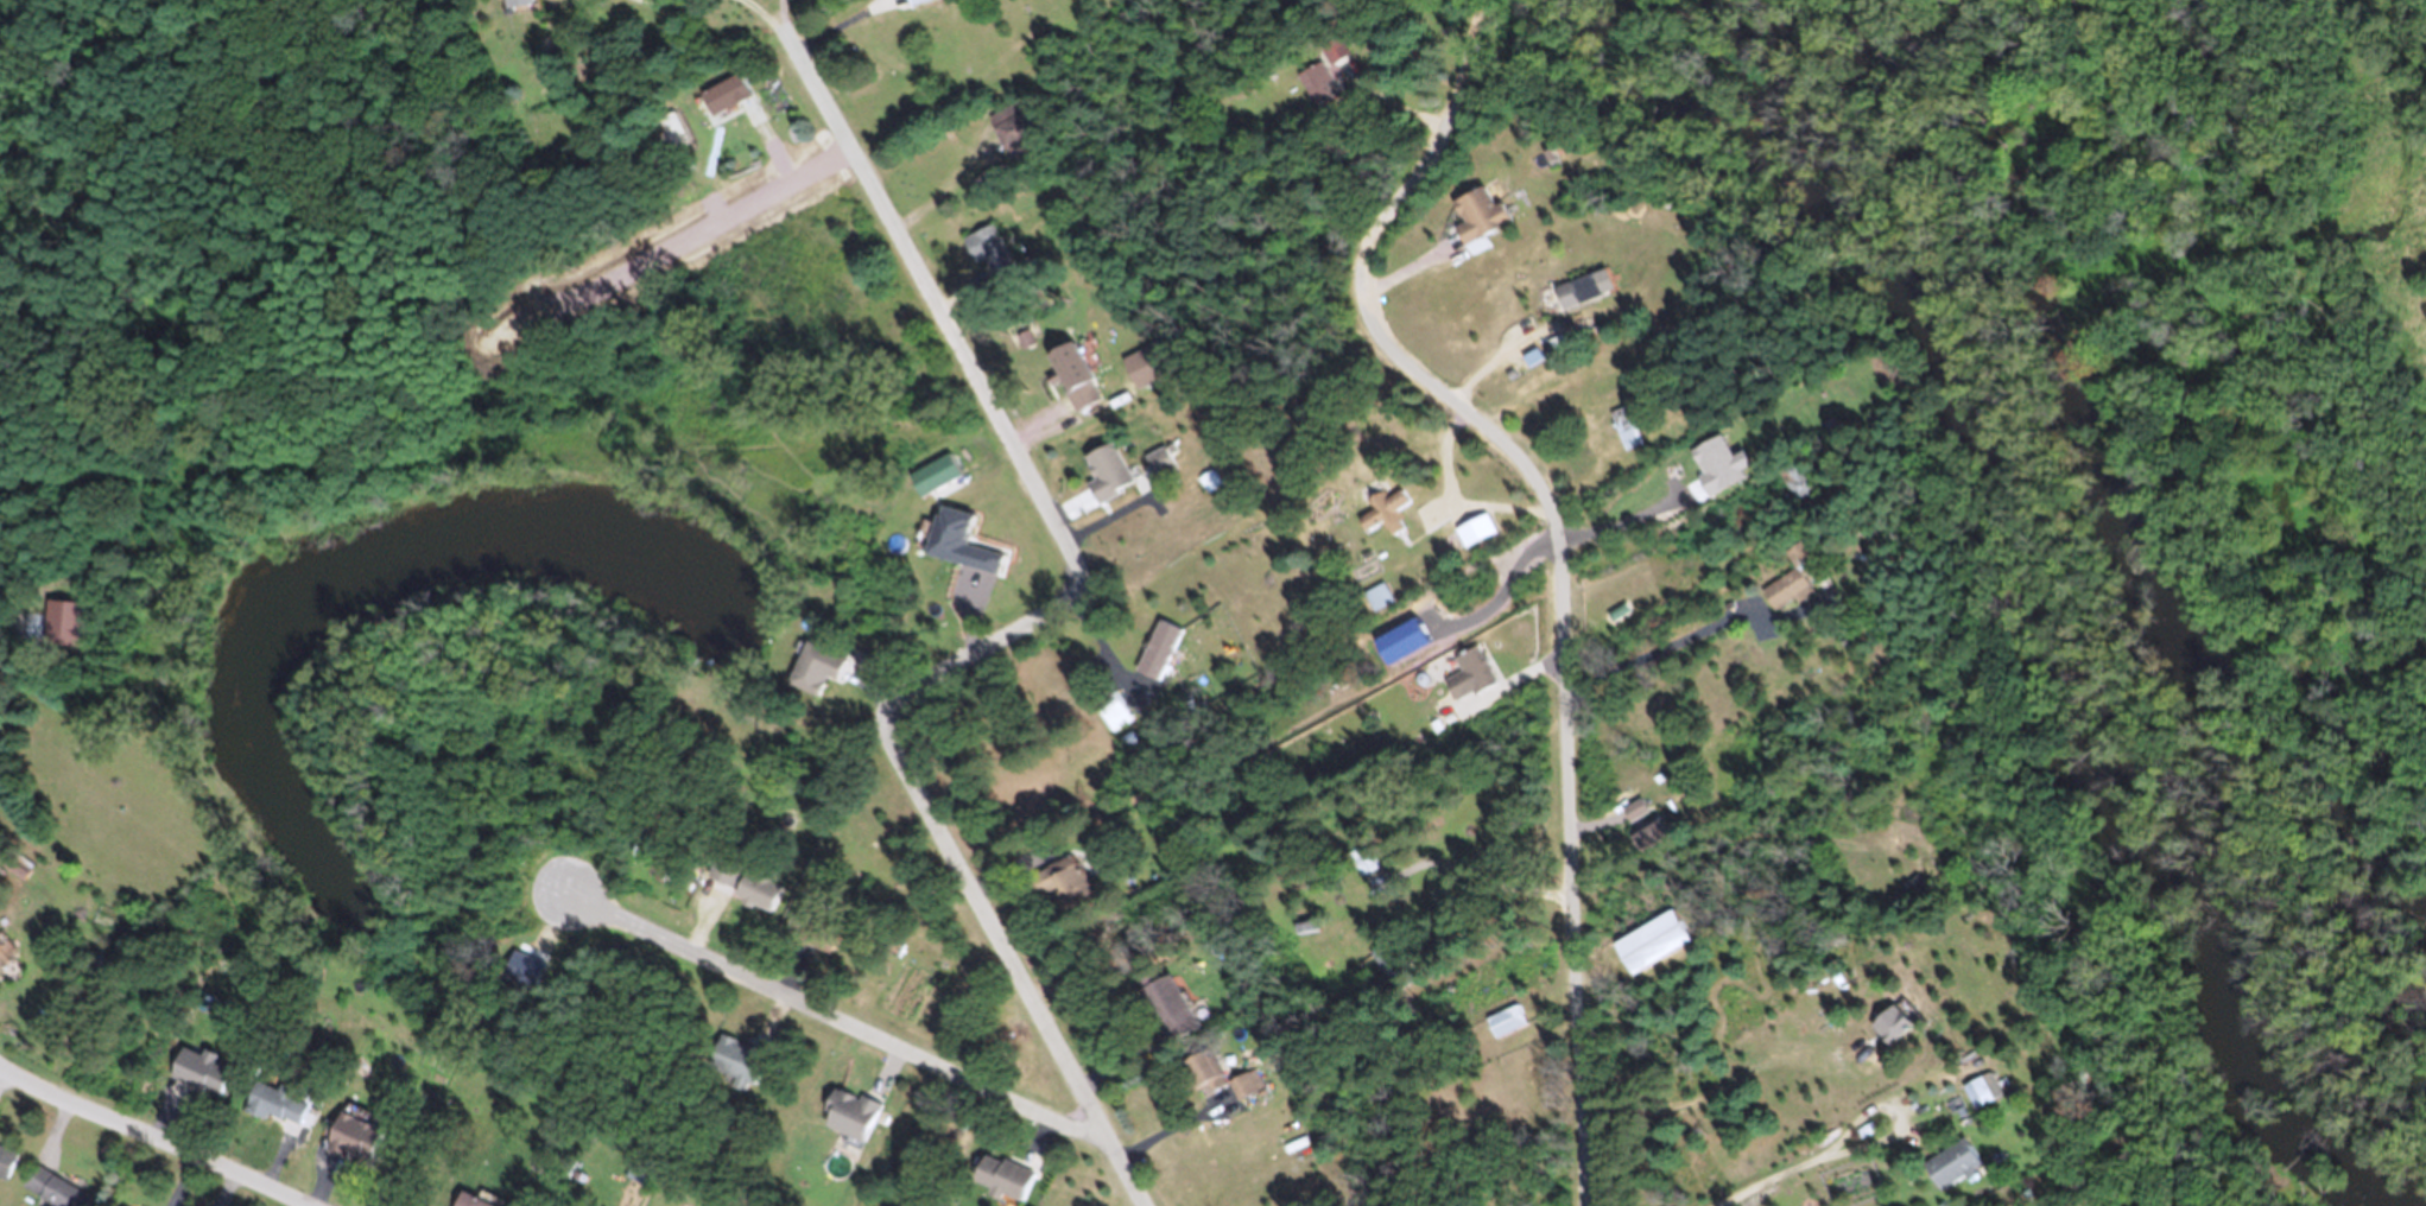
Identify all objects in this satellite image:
building: (921, 4)
building: (517, 6)
road: (765, 12)
road: (780, 13)
building: (1335, 58)
building: (723, 103)
building: (669, 140)
road: (811, 164)
building: (1480, 224)
building: (987, 262)
building: (1577, 299)
road: (1494, 349)
building: (1077, 382)
building: (1627, 436)
building: (1160, 471)
building: (1108, 481)
building: (1799, 490)
building: (1681, 503)
road: (1453, 504)
building: (1391, 516)
building: (1370, 531)
building: (1475, 538)
road: (1628, 539)
road: (1559, 546)
road: (1503, 584)
building: (1786, 598)
building: (1379, 604)
road: (1016, 630)
road: (1657, 646)
building: (1160, 658)
building: (815, 675)
building: (1468, 683)
building: (1113, 716)
building: (1643, 832)
building: (1363, 868)
building: (15, 875)
building: (723, 877)
building: (1063, 890)
road: (1490, 894)
building: (1651, 951)
building: (1824, 1004)
building: (1160, 1005)
road: (837, 1022)
building: (1506, 1028)
building: (735, 1067)
building: (201, 1079)
building: (1202, 1079)
building: (1243, 1093)
building: (1980, 1099)
building: (274, 1112)
road: (1890, 1112)
building: (1938, 1119)
building: (849, 1124)
road: (151, 1137)
building: (350, 1147)
building: (1261, 1157)
building: (5, 1169)
building: (1949, 1173)
road: (1762, 1175)
building: (1000, 1186)
building: (47, 1194)
road: (1886, 1198)
building: (461, 1204)

